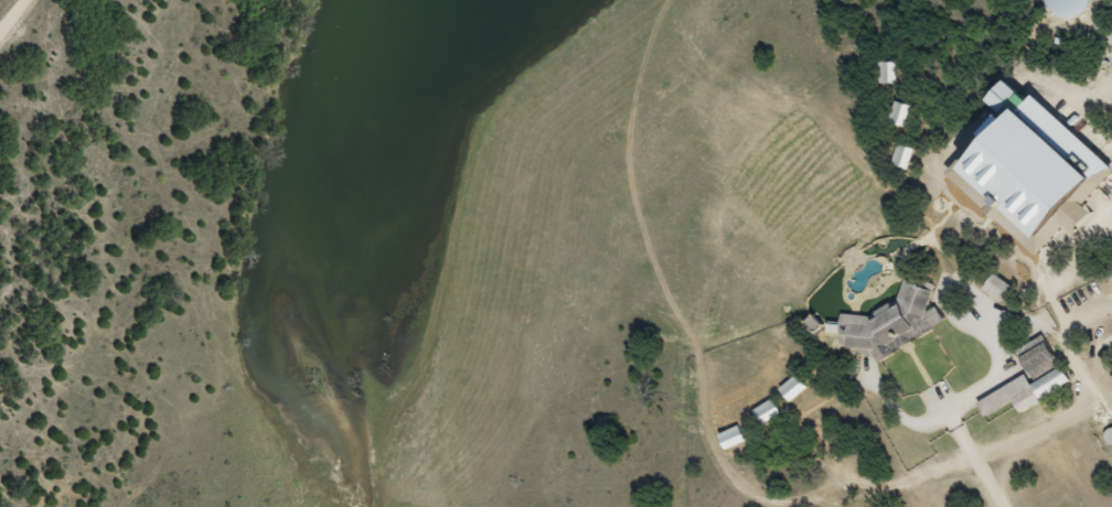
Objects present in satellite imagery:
road: (10, 12)
building: (889, 321)
building: (1034, 356)

